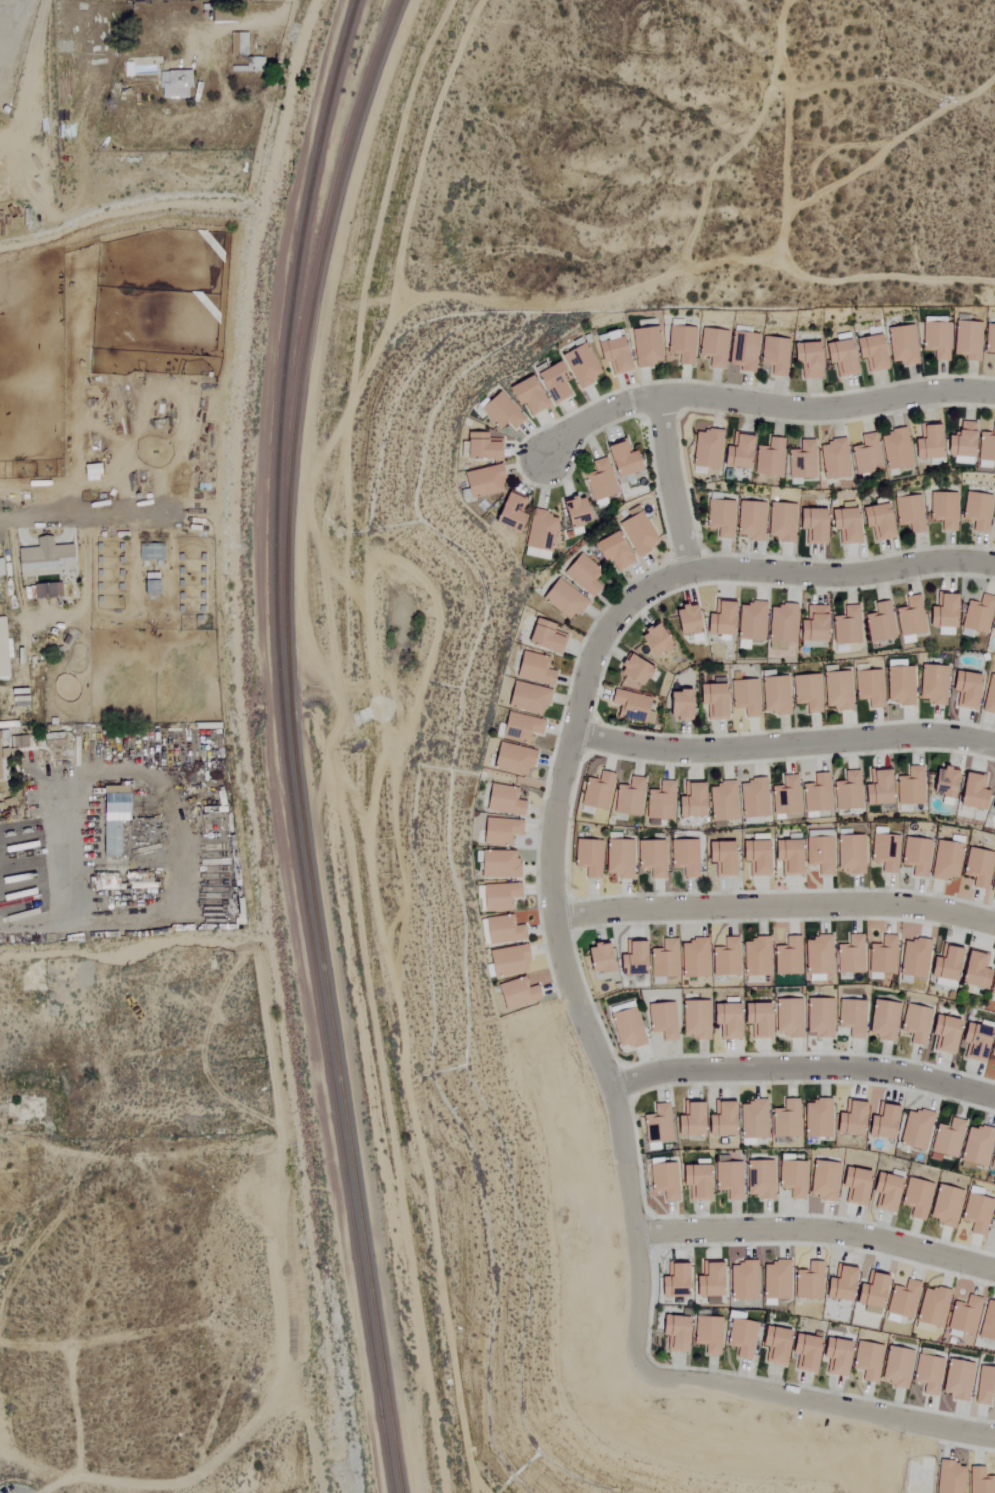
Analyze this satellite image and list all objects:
building: (226, 17)
building: (240, 44)
building: (252, 65)
building: (177, 84)
road: (380, 206)
building: (935, 339)
building: (965, 340)
building: (680, 344)
building: (989, 344)
building: (900, 345)
building: (645, 346)
building: (712, 347)
building: (741, 351)
building: (610, 352)
building: (868, 352)
building: (774, 355)
building: (838, 357)
building: (806, 359)
building: (579, 366)
building: (549, 382)
building: (524, 395)
road: (759, 405)
building: (499, 412)
building: (925, 443)
building: (959, 444)
building: (478, 447)
building: (705, 450)
building: (893, 450)
building: (734, 452)
building: (864, 455)
building: (768, 458)
building: (831, 460)
building: (799, 461)
road: (218, 468)
building: (95, 469)
building: (607, 471)
building: (481, 481)
road: (672, 481)
building: (942, 510)
building: (975, 511)
building: (507, 512)
building: (571, 513)
building: (909, 513)
building: (719, 518)
road: (107, 519)
building: (993, 520)
building: (748, 521)
building: (876, 521)
building: (780, 522)
building: (843, 523)
building: (810, 525)
building: (539, 531)
building: (636, 531)
building: (153, 551)
building: (610, 551)
building: (48, 558)
building: (1, 567)
road: (843, 572)
building: (581, 574)
building: (156, 583)
building: (49, 590)
building: (561, 600)
building: (941, 614)
building: (976, 615)
building: (909, 617)
building: (718, 619)
building: (684, 622)
building: (749, 622)
building: (879, 623)
building: (811, 624)
building: (780, 626)
building: (845, 626)
building: (992, 626)
building: (544, 638)
building: (651, 642)
building: (4, 648)
building: (532, 669)
building: (630, 671)
building: (897, 683)
building: (931, 685)
building: (866, 688)
building: (962, 690)
building: (834, 691)
building: (804, 693)
building: (773, 696)
building: (989, 696)
building: (529, 698)
building: (743, 698)
building: (710, 701)
building: (630, 706)
building: (675, 706)
building: (524, 727)
road: (343, 738)
railway: (293, 742)
road: (784, 743)
railway: (283, 746)
building: (9, 752)
building: (517, 759)
road: (113, 771)
building: (941, 783)
building: (909, 786)
building: (875, 787)
building: (846, 791)
building: (970, 791)
building: (596, 792)
building: (816, 793)
building: (785, 795)
building: (628, 797)
building: (752, 798)
building: (689, 800)
building: (992, 800)
building: (508, 801)
building: (659, 801)
building: (722, 801)
building: (118, 820)
building: (504, 830)
building: (882, 852)
building: (818, 854)
building: (848, 854)
building: (914, 855)
building: (683, 856)
building: (785, 856)
building: (588, 857)
building: (651, 857)
building: (719, 857)
building: (753, 857)
building: (618, 858)
building: (944, 858)
building: (503, 864)
building: (976, 867)
building: (992, 880)
building: (503, 896)
road: (777, 901)
road: (91, 922)
building: (506, 930)
road: (565, 947)
building: (816, 955)
building: (849, 955)
building: (754, 956)
building: (786, 956)
building: (880, 956)
building: (724, 957)
building: (595, 958)
building: (629, 958)
building: (692, 958)
building: (911, 958)
building: (663, 959)
building: (513, 960)
building: (942, 965)
building: (972, 969)
building: (992, 983)
building: (521, 993)
building: (817, 1017)
building: (849, 1017)
building: (724, 1018)
building: (786, 1018)
building: (693, 1019)
building: (755, 1019)
building: (661, 1020)
building: (881, 1020)
building: (914, 1024)
building: (625, 1027)
building: (941, 1033)
building: (972, 1041)
building: (992, 1046)
road: (803, 1067)
building: (814, 1118)
building: (847, 1118)
building: (687, 1119)
building: (719, 1119)
building: (752, 1119)
building: (784, 1119)
building: (879, 1121)
building: (656, 1124)
building: (913, 1129)
building: (945, 1138)
building: (973, 1147)
building: (992, 1159)
building: (790, 1178)
building: (693, 1179)
building: (726, 1179)
building: (757, 1179)
building: (821, 1180)
building: (661, 1181)
building: (851, 1185)
building: (882, 1192)
building: (915, 1198)
building: (943, 1205)
building: (992, 1215)
road: (818, 1234)
building: (994, 1237)
building: (706, 1280)
building: (773, 1280)
building: (672, 1281)
building: (741, 1281)
building: (807, 1282)
building: (837, 1283)
building: (869, 1292)
building: (901, 1299)
building: (930, 1307)
building: (962, 1313)
building: (987, 1322)
building: (672, 1332)
building: (707, 1334)
building: (773, 1344)
building: (802, 1351)
building: (833, 1356)
building: (866, 1361)
building: (894, 1367)
building: (926, 1373)
building: (954, 1379)
building: (984, 1385)
road: (820, 1401)
building: (947, 1477)
building: (979, 1481)

